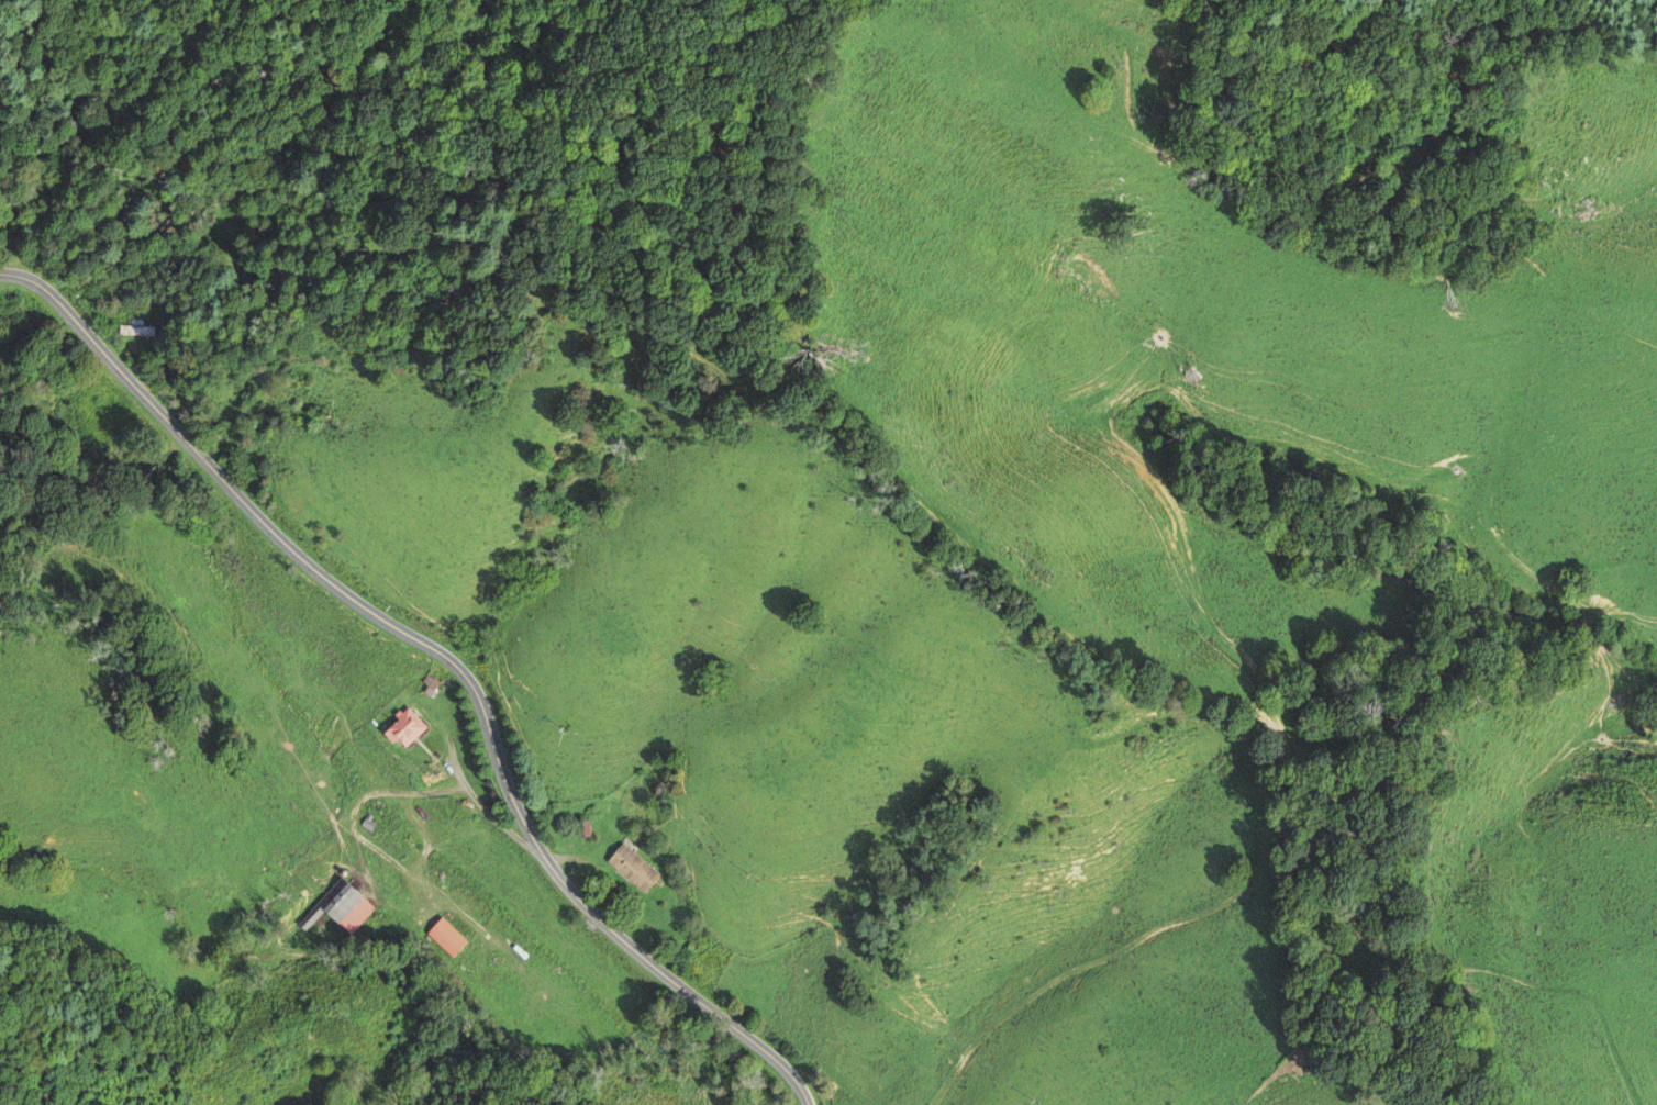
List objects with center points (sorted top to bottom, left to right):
road: (451, 651)
building: (405, 728)
building: (430, 777)
building: (633, 868)
building: (341, 907)
building: (447, 938)

